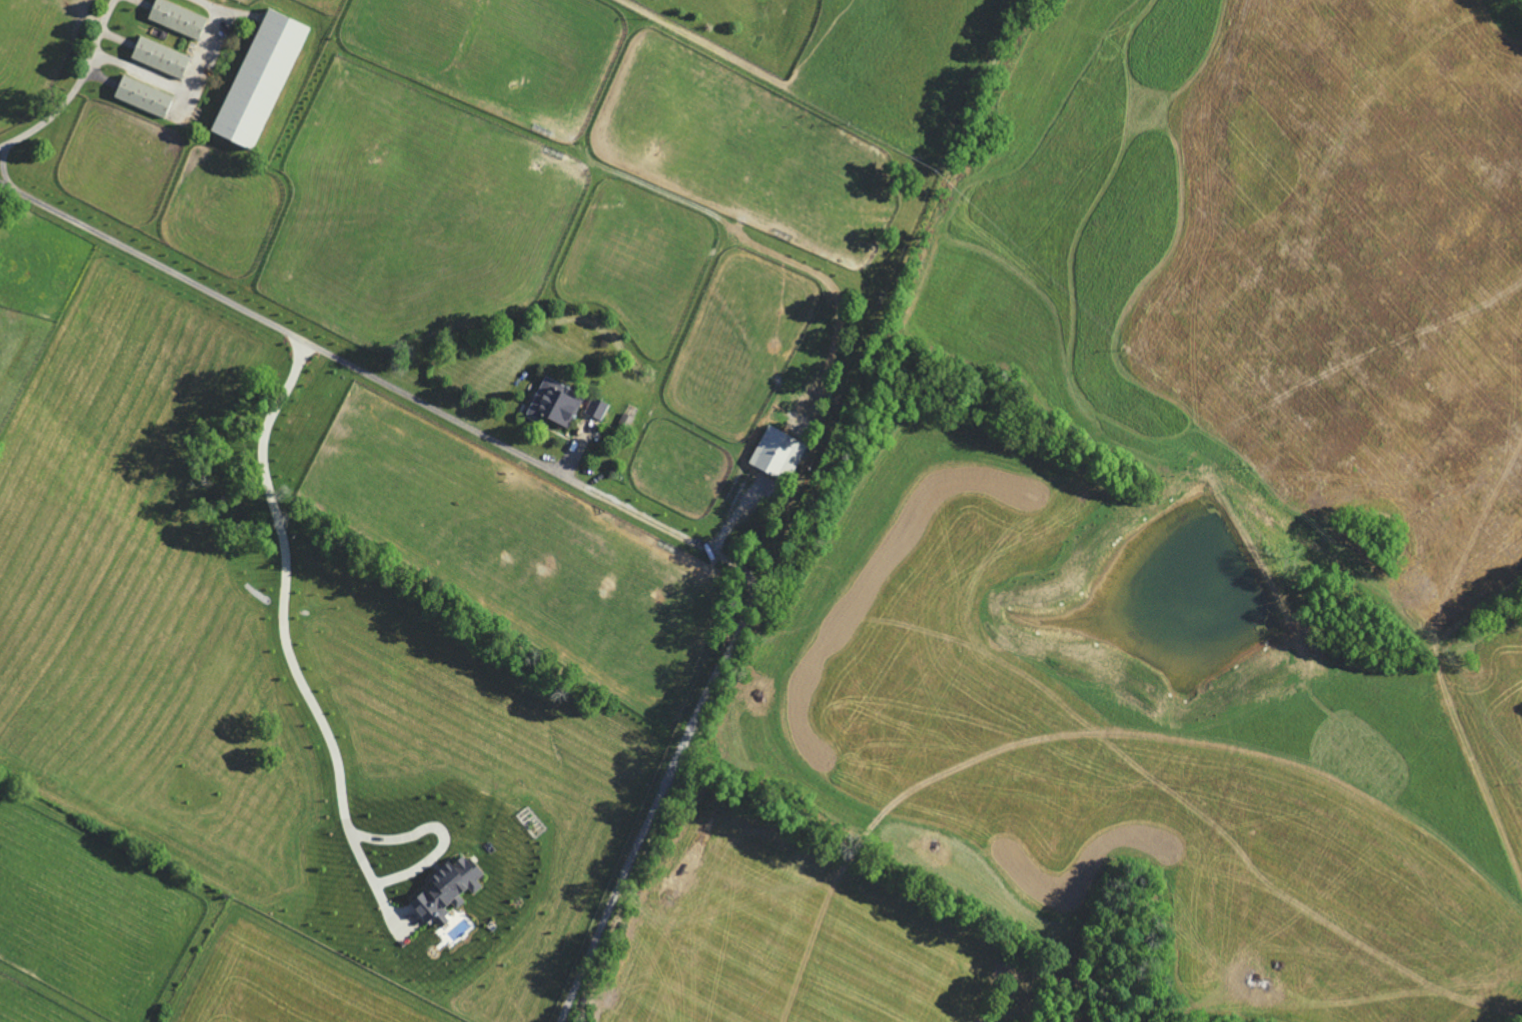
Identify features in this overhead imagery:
building: (181, 19)
building: (164, 58)
building: (264, 79)
road: (192, 86)
road: (78, 91)
building: (147, 97)
road: (354, 366)
building: (559, 404)
building: (602, 410)
building: (629, 421)
building: (781, 454)
road: (288, 636)
road: (439, 832)
building: (452, 891)

